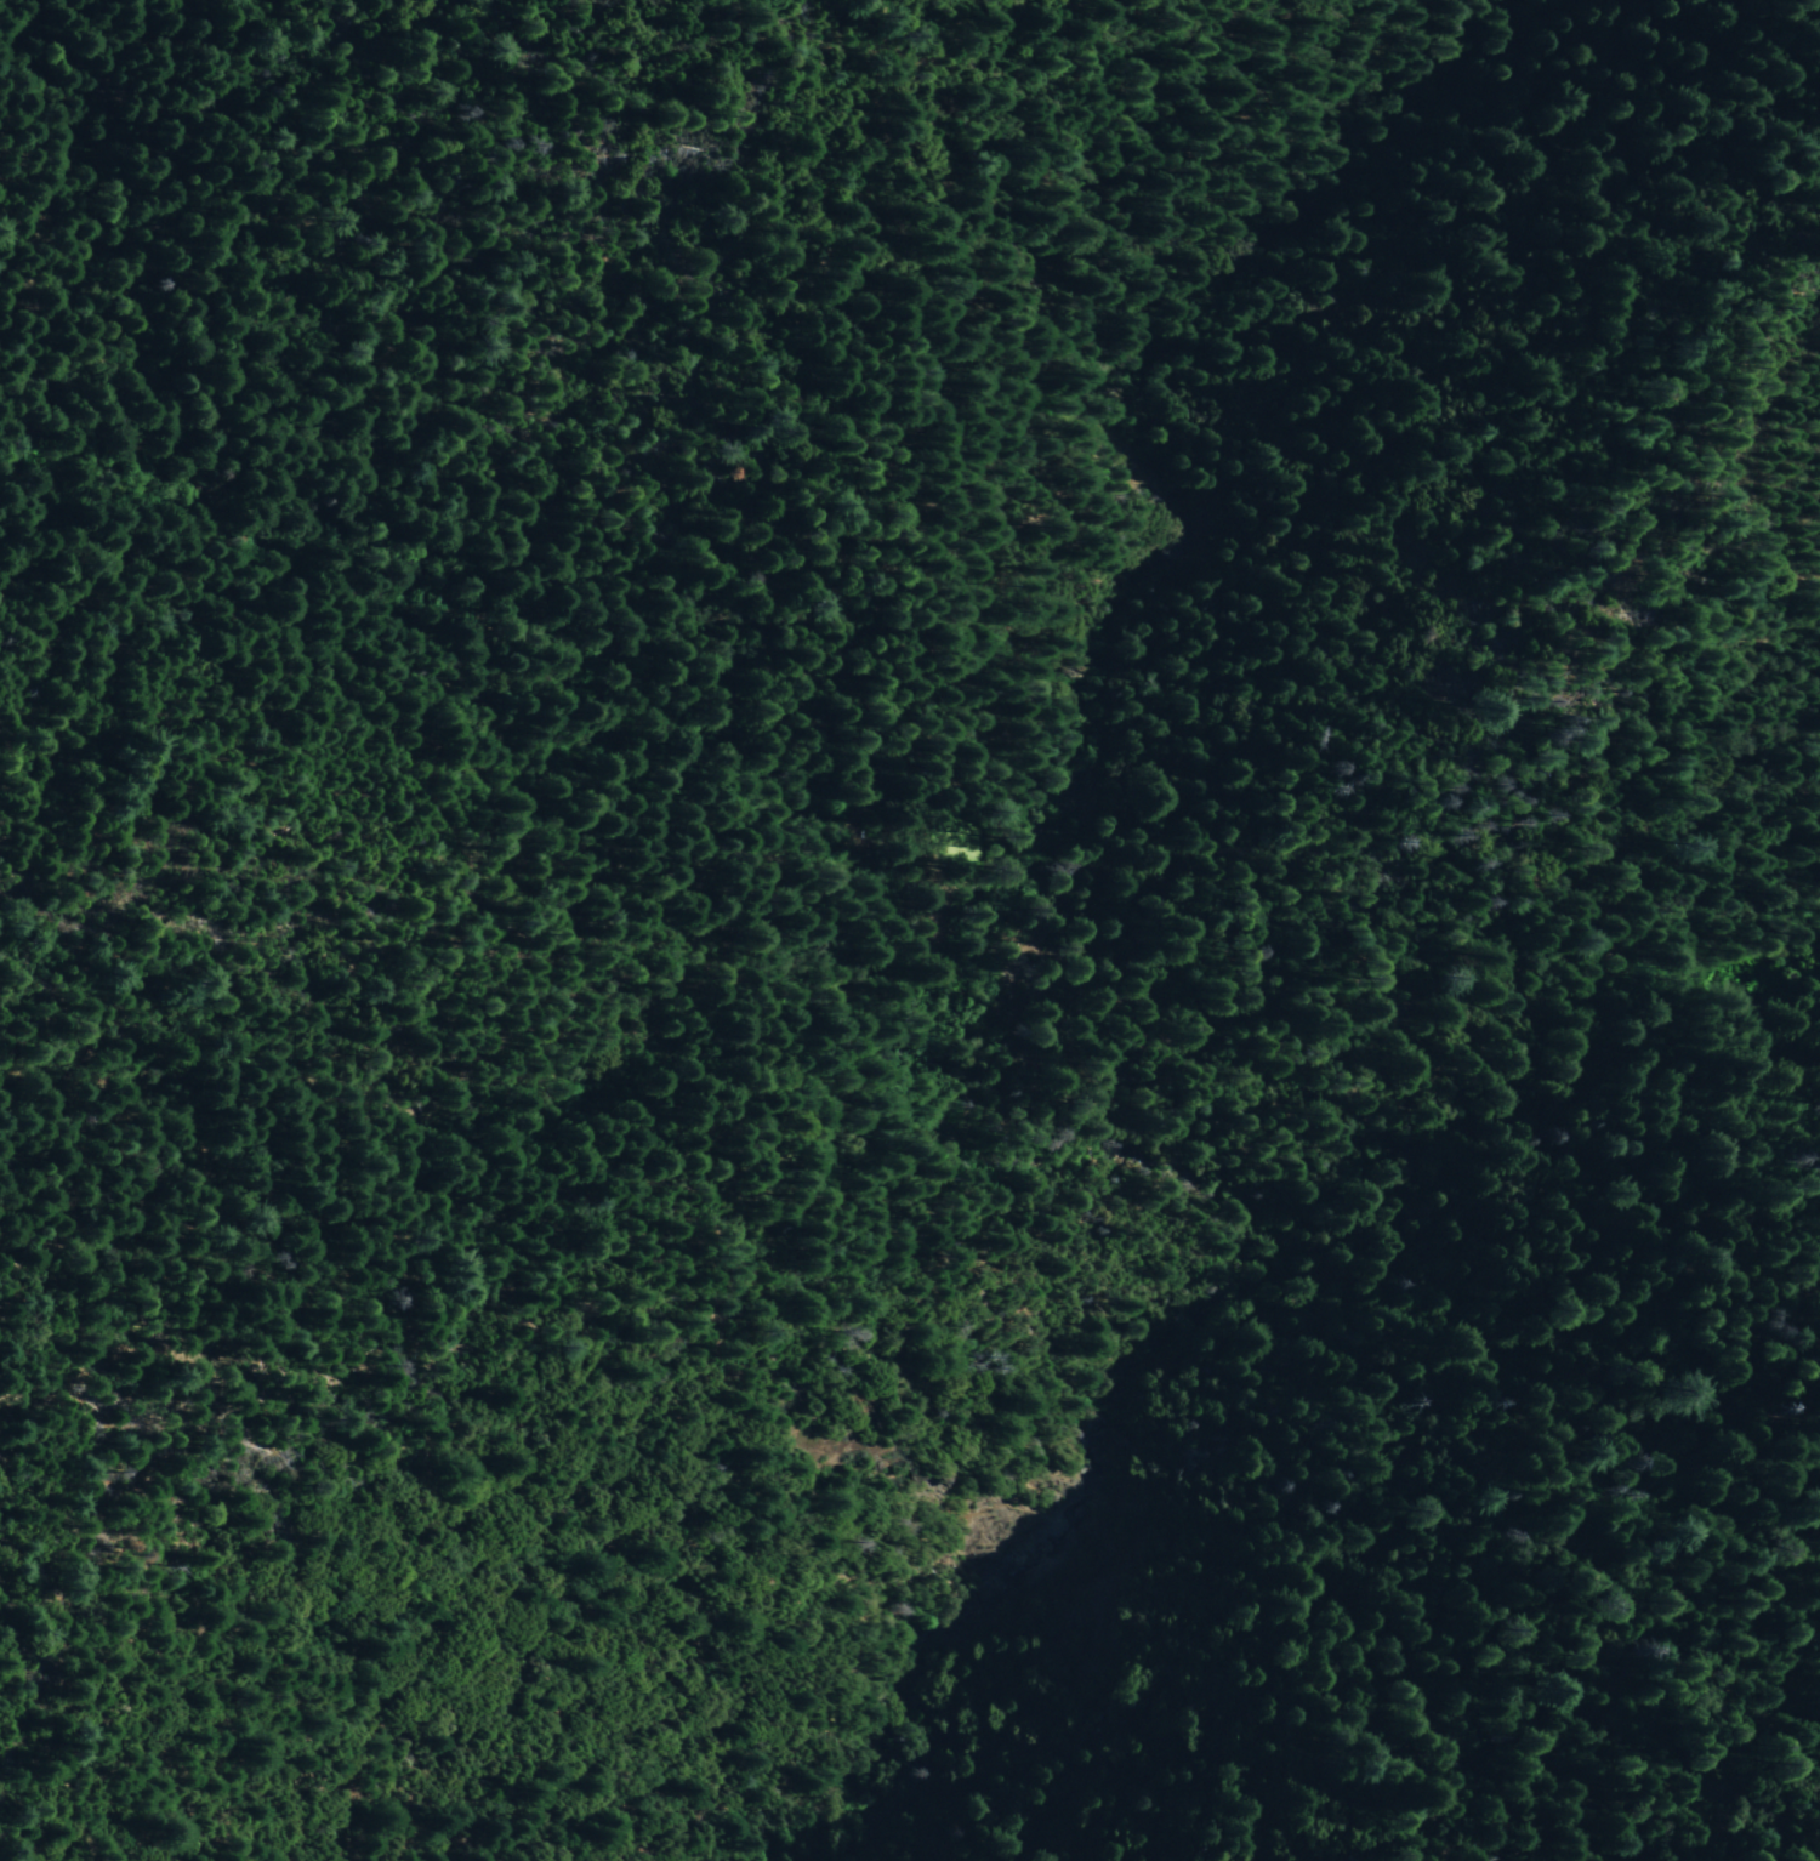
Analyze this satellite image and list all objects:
park: (969, 861)
park: (1512, 1055)
road: (855, 1076)

